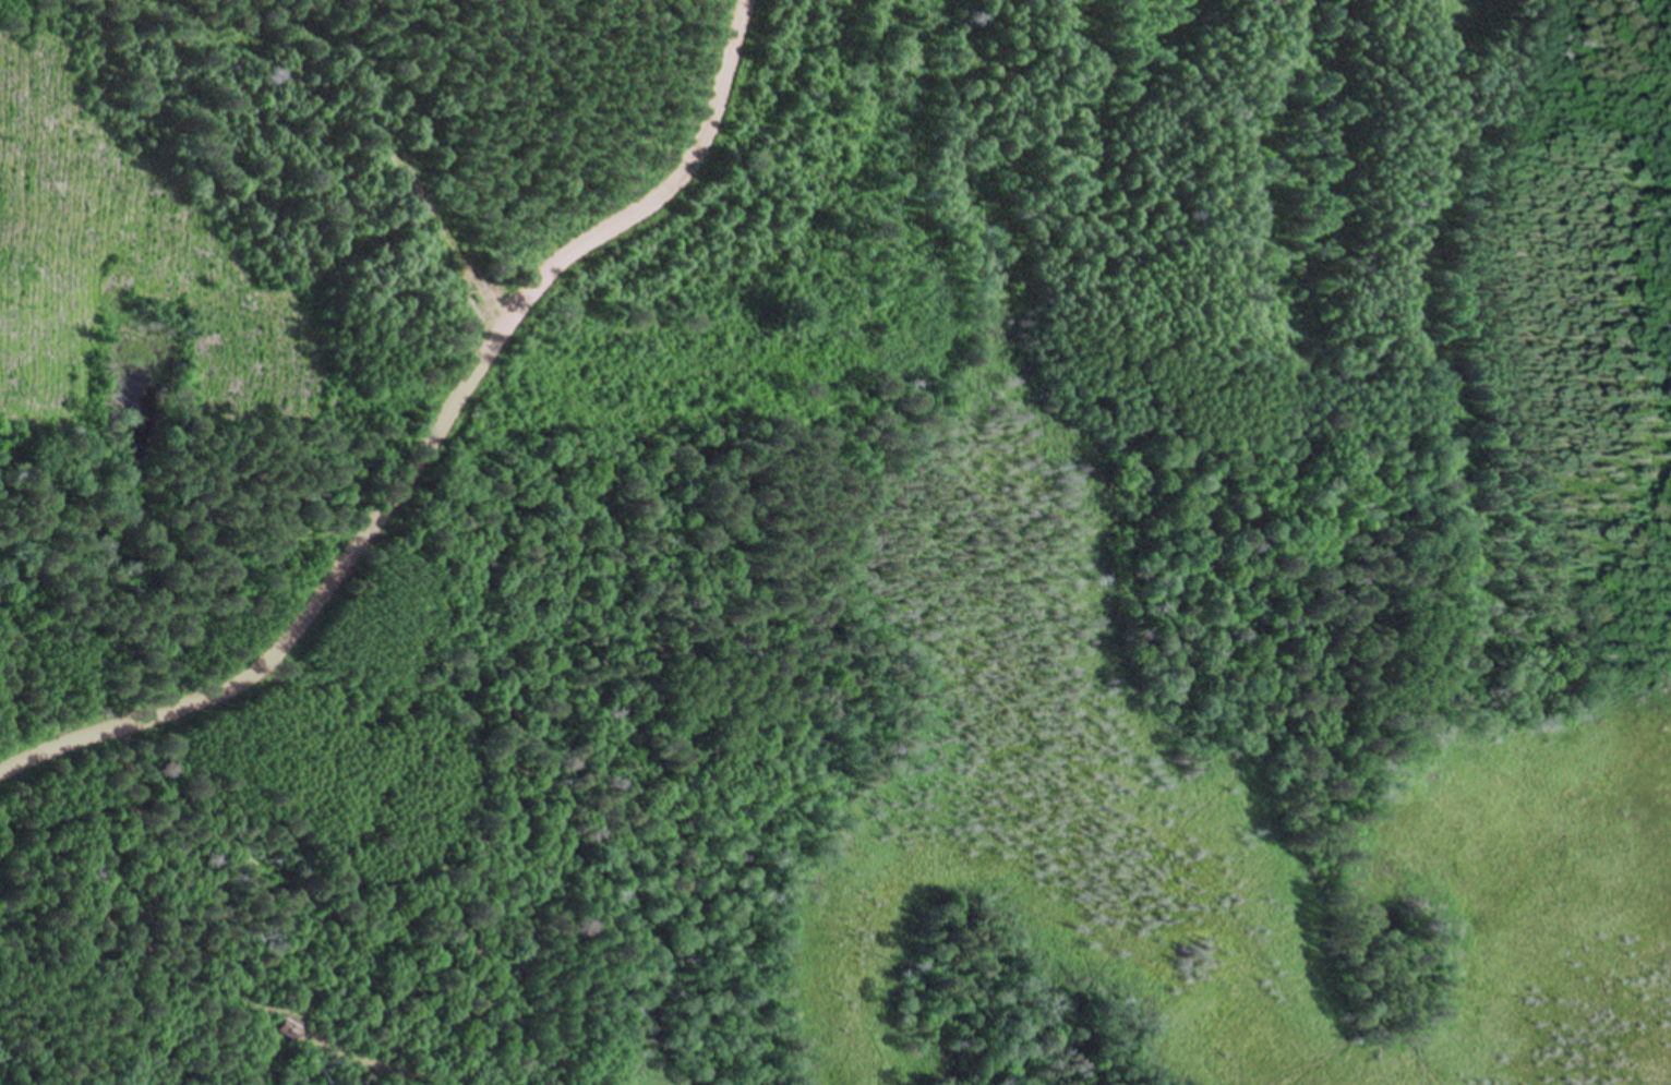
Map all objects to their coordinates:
road: (434, 450)

